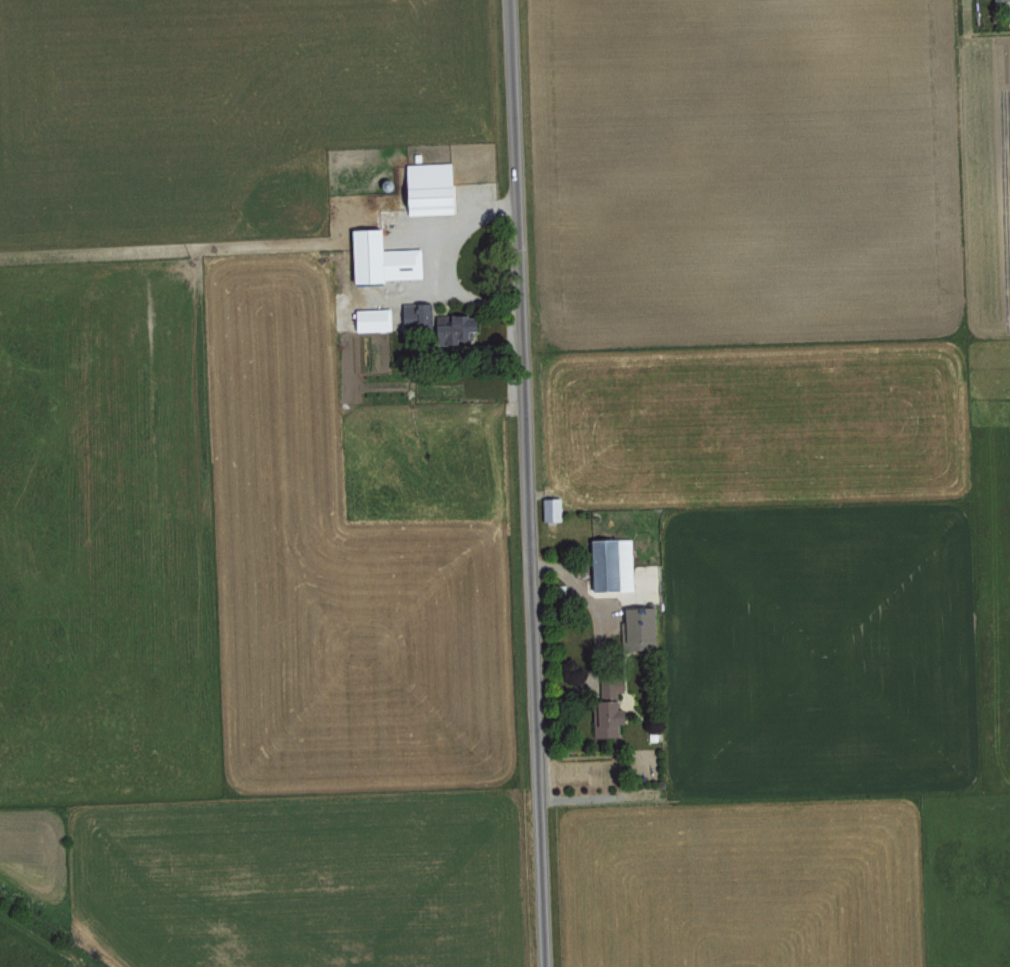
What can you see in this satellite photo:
building: (998, 0)
building: (425, 188)
building: (379, 259)
building: (405, 317)
building: (454, 331)
road: (530, 483)
building: (549, 508)
building: (609, 563)
building: (636, 626)
building: (607, 709)

